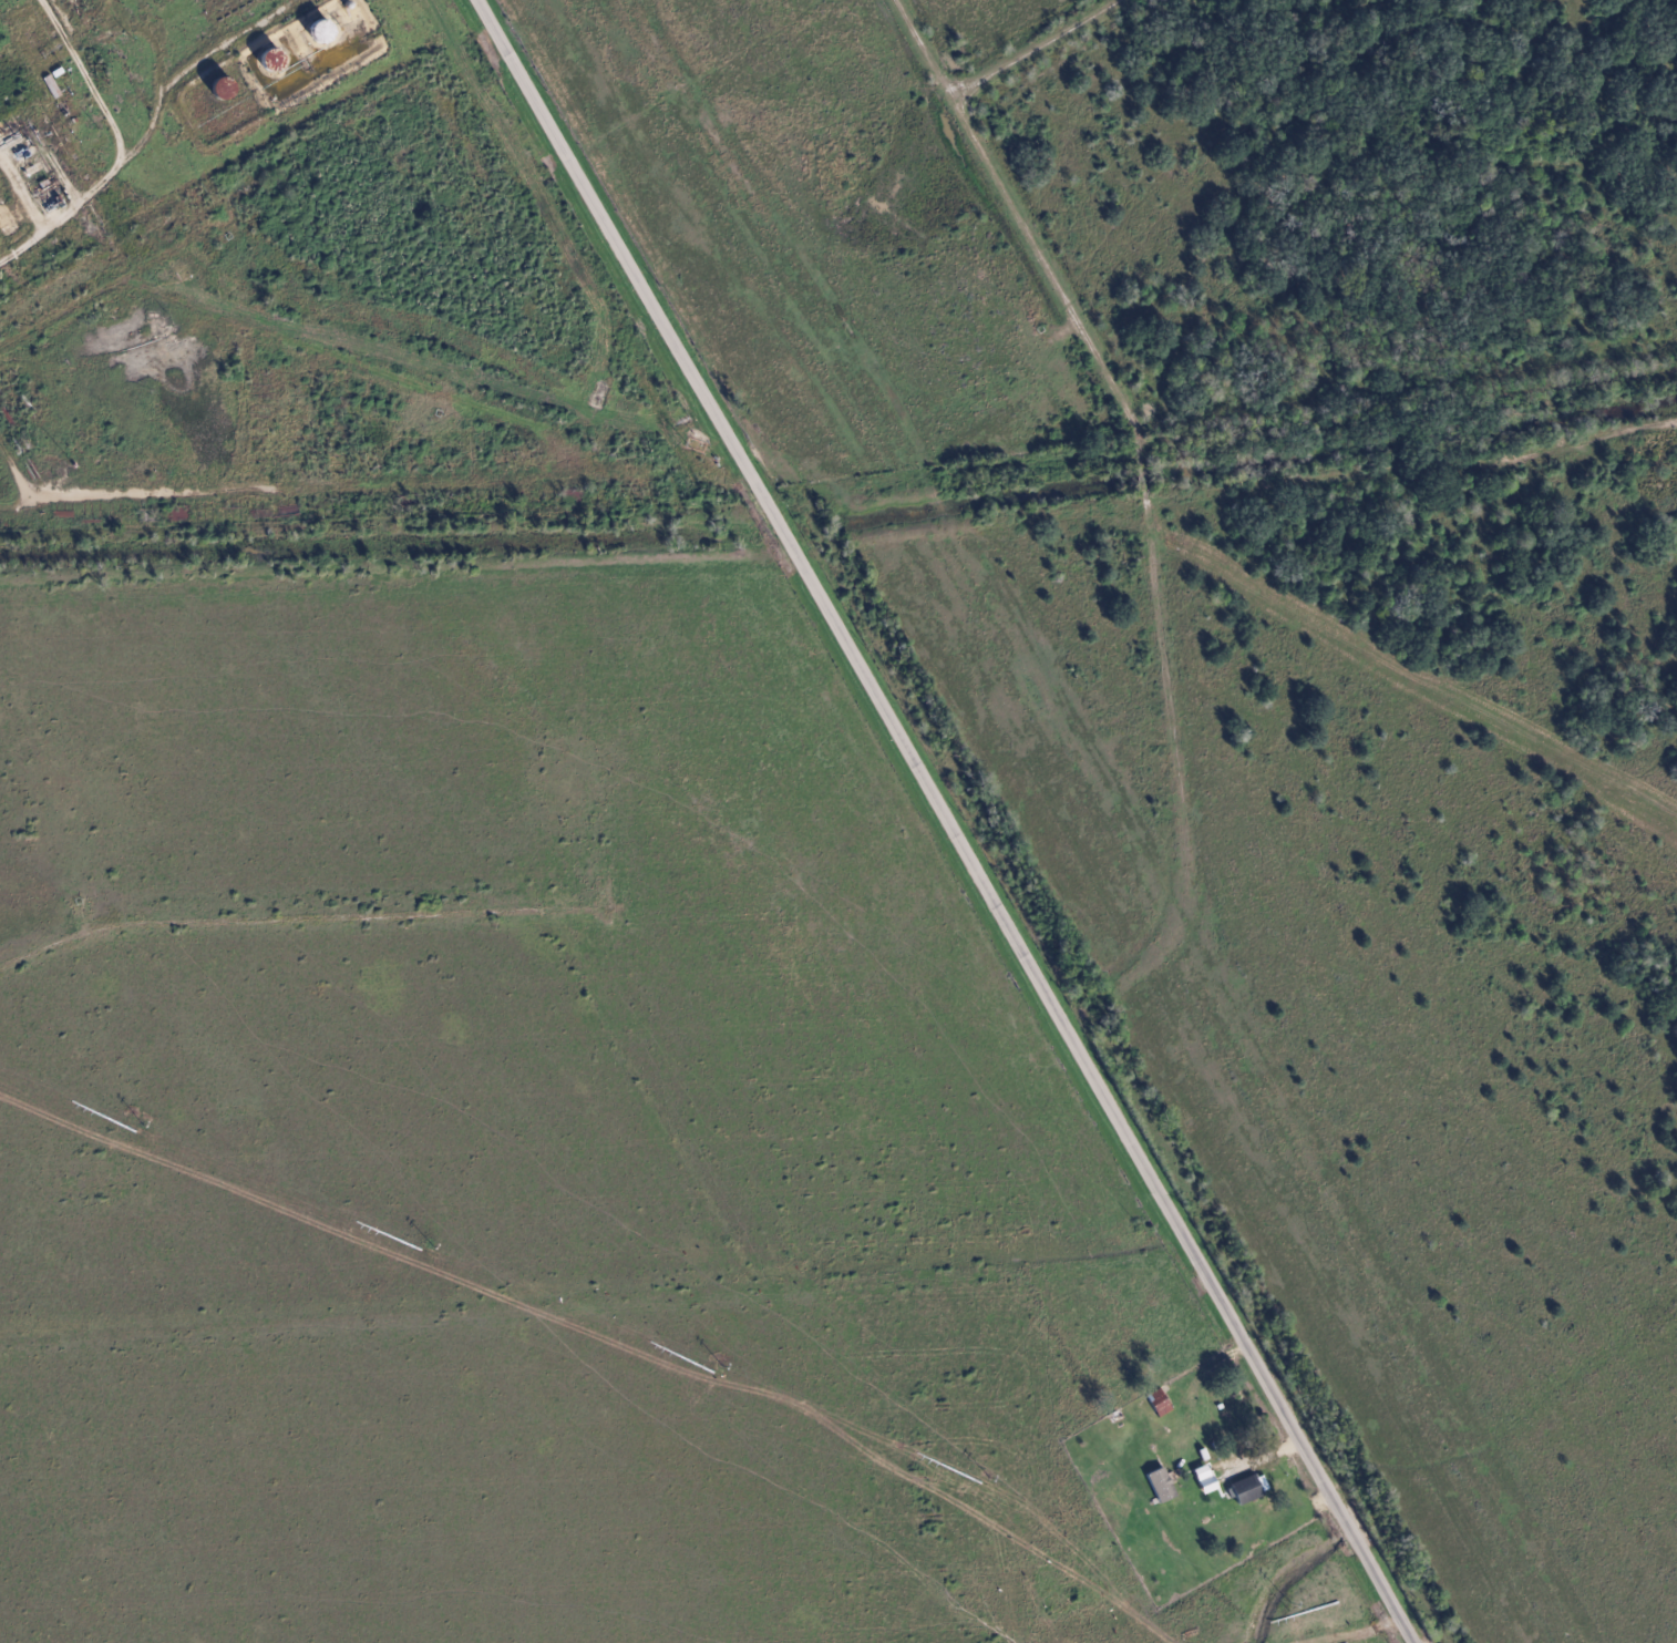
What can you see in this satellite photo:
road: (1037, 48)
road: (1038, 246)
road: (115, 285)
road: (364, 367)
road: (28, 485)
road: (341, 491)
road: (945, 821)
road: (302, 917)
building: (1159, 1403)
building: (1205, 1479)
building: (1161, 1486)
building: (1246, 1491)
road: (1354, 1632)

